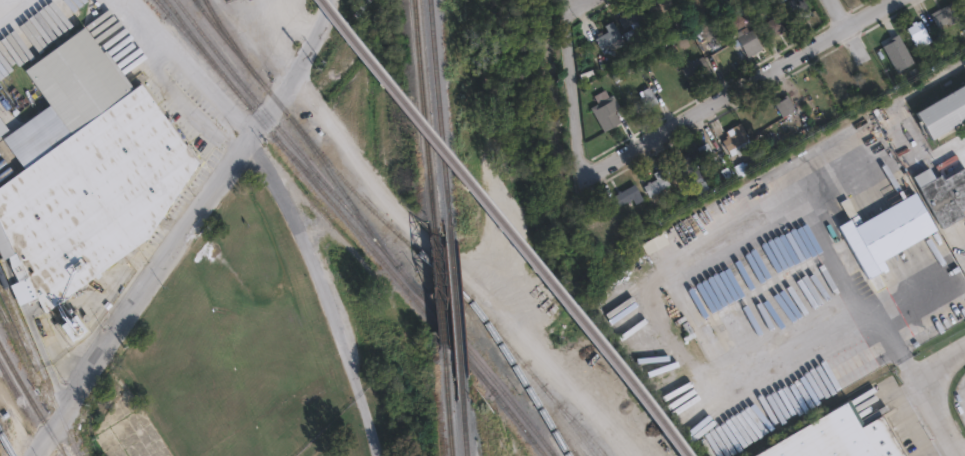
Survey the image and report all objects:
building: (963, 2)
road: (4, 3)
building: (657, 5)
road: (572, 6)
railway: (163, 7)
railway: (164, 7)
building: (797, 9)
railway: (186, 12)
building: (631, 14)
road: (838, 14)
building: (946, 15)
road: (146, 26)
building: (776, 26)
building: (606, 32)
building: (920, 34)
railway: (227, 35)
building: (749, 41)
railway: (197, 46)
building: (897, 51)
road: (159, 64)
building: (696, 66)
building: (624, 73)
road: (742, 88)
road: (569, 92)
building: (639, 92)
building: (784, 104)
railway: (439, 110)
railway: (423, 111)
building: (604, 111)
building: (944, 112)
building: (2, 128)
building: (735, 134)
building: (952, 148)
building: (707, 154)
railway: (324, 159)
building: (681, 162)
building: (91, 174)
railway: (313, 175)
building: (655, 178)
building: (700, 184)
railway: (340, 192)
building: (628, 192)
building: (905, 214)
railway: (507, 227)
road: (185, 228)
railway: (353, 229)
railway: (375, 240)
road: (324, 291)
railway: (454, 309)
railway: (439, 311)
road: (863, 321)
railway: (460, 347)
railway: (38, 366)
railway: (535, 377)
railway: (522, 379)
road: (939, 399)
railway: (31, 402)
road: (894, 408)
railway: (26, 410)
railway: (578, 425)
railway: (463, 427)
railway: (449, 428)
railway: (551, 430)
building: (840, 438)
railway: (6, 444)

